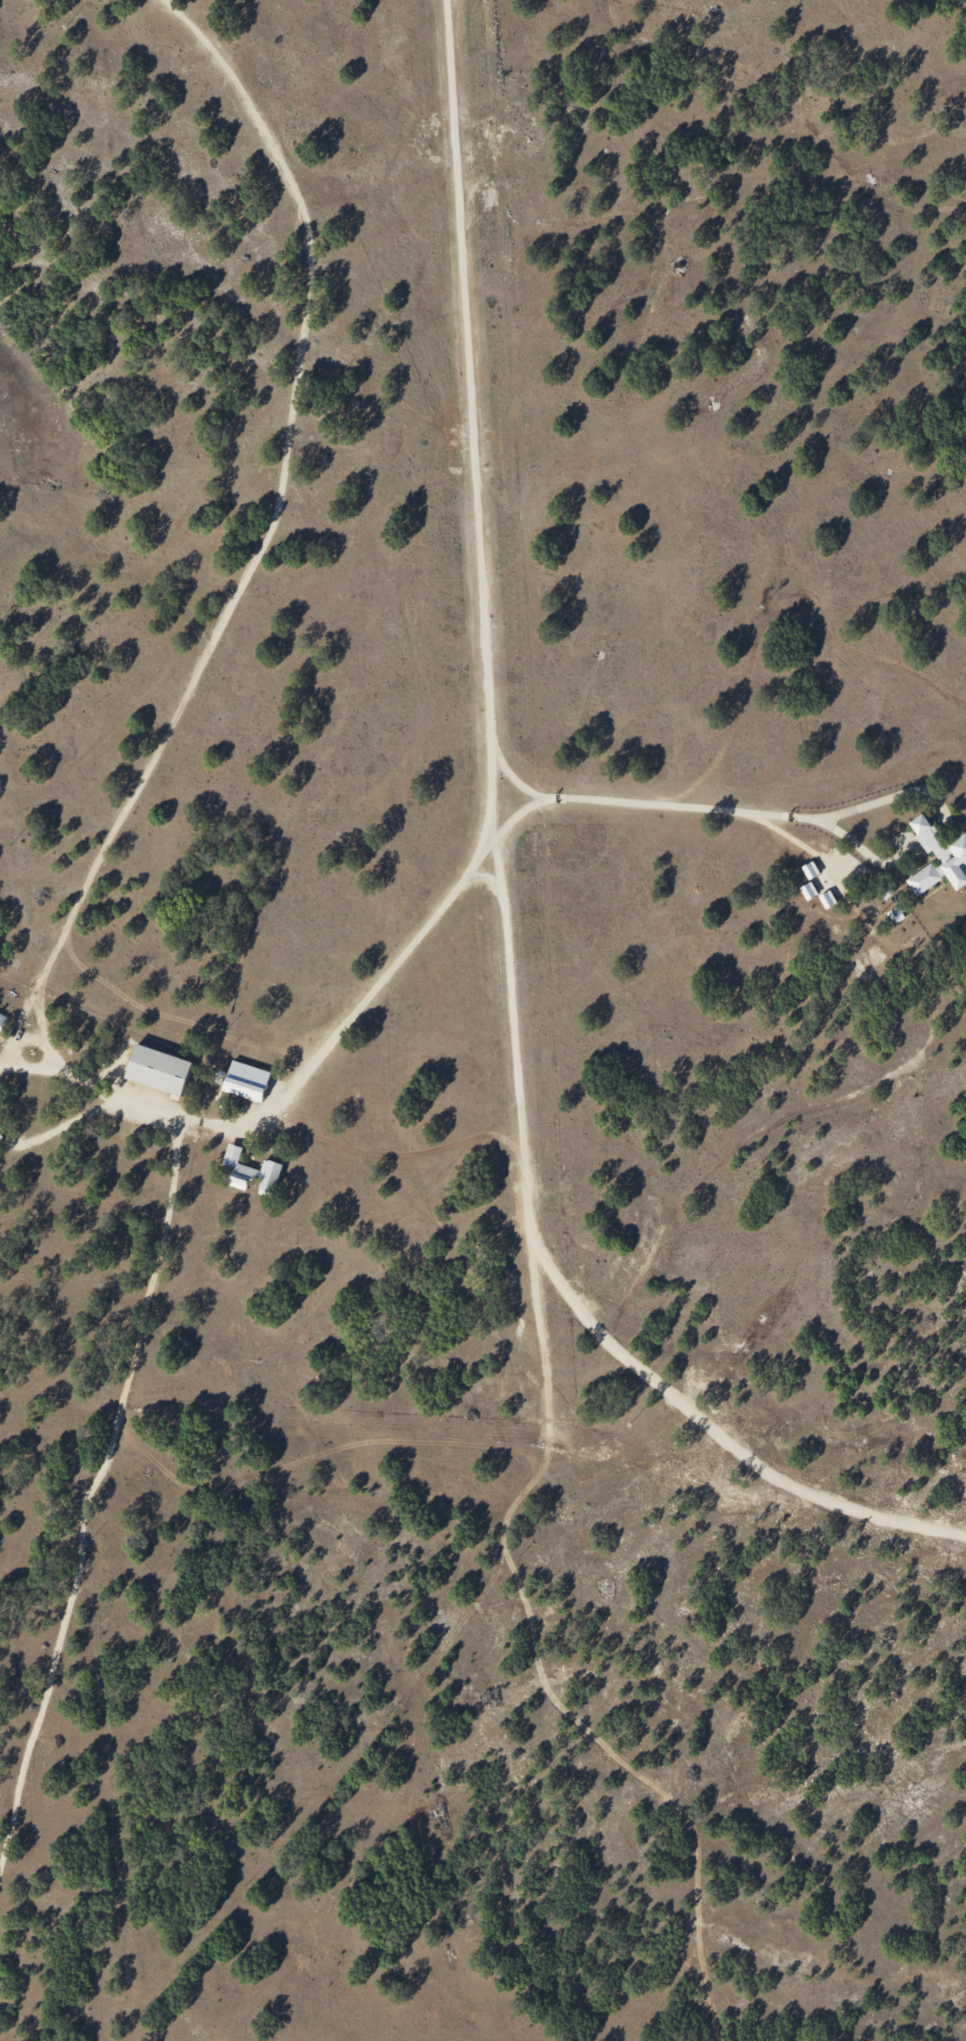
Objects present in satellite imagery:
road: (267, 538)
building: (932, 838)
building: (958, 863)
building: (925, 879)
building: (2, 1022)
building: (160, 1069)
building: (248, 1081)
building: (239, 1168)
building: (271, 1178)

